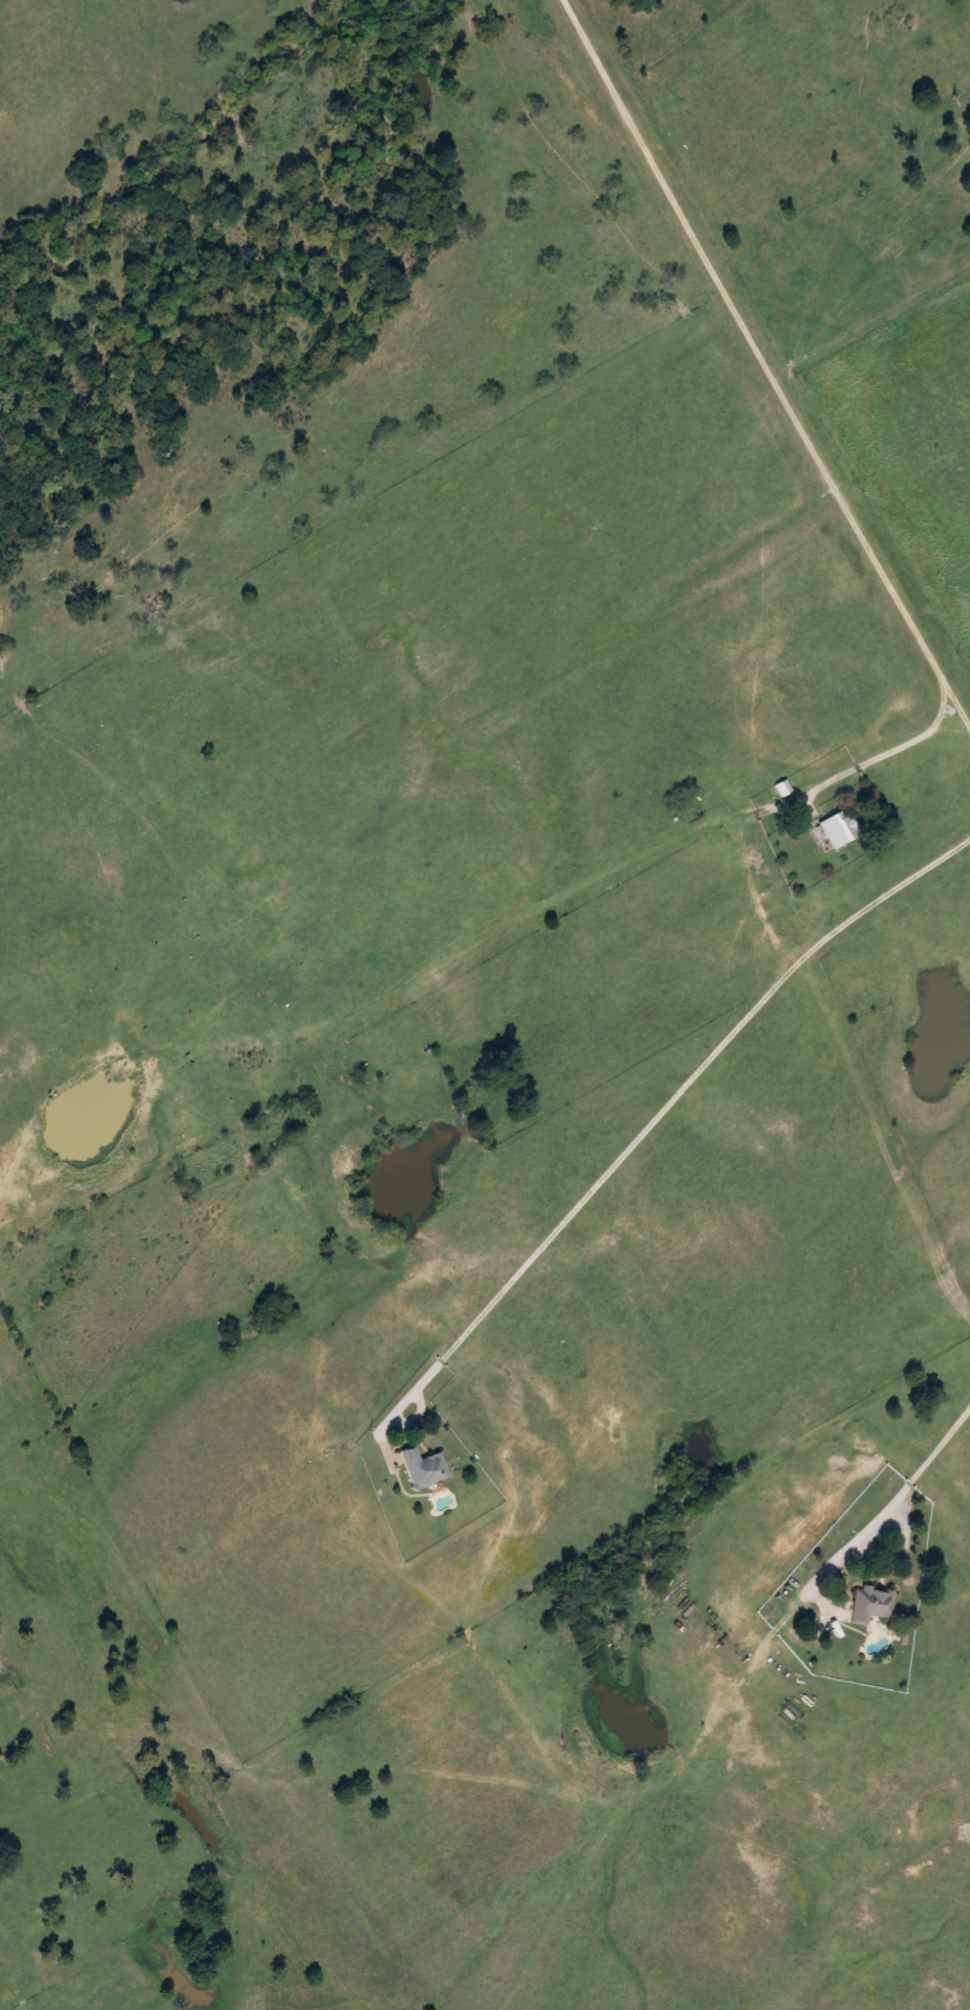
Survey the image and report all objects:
road: (805, 438)
road: (958, 708)
building: (782, 787)
building: (838, 828)
road: (422, 977)
building: (313, 1059)
road: (649, 1127)
building: (422, 1467)
road: (913, 1478)
building: (869, 1604)

